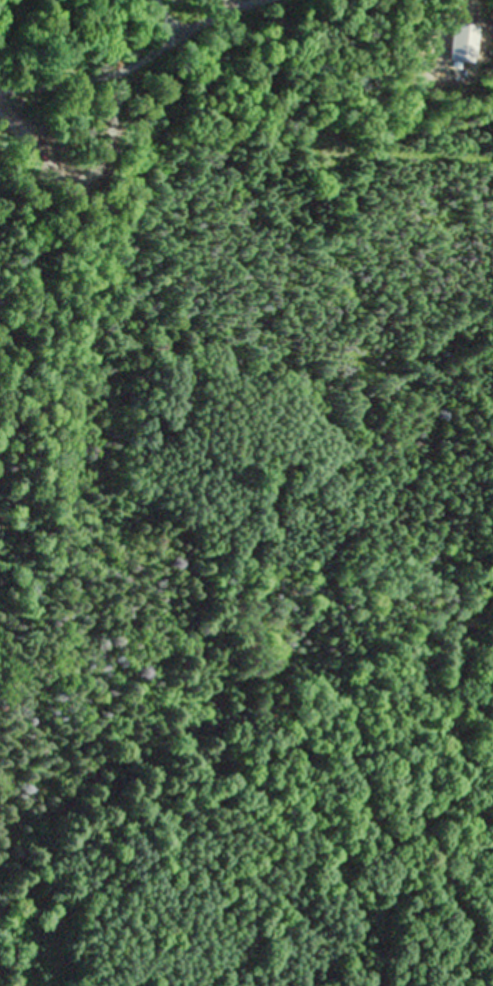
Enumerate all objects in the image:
building: (117, 2)

